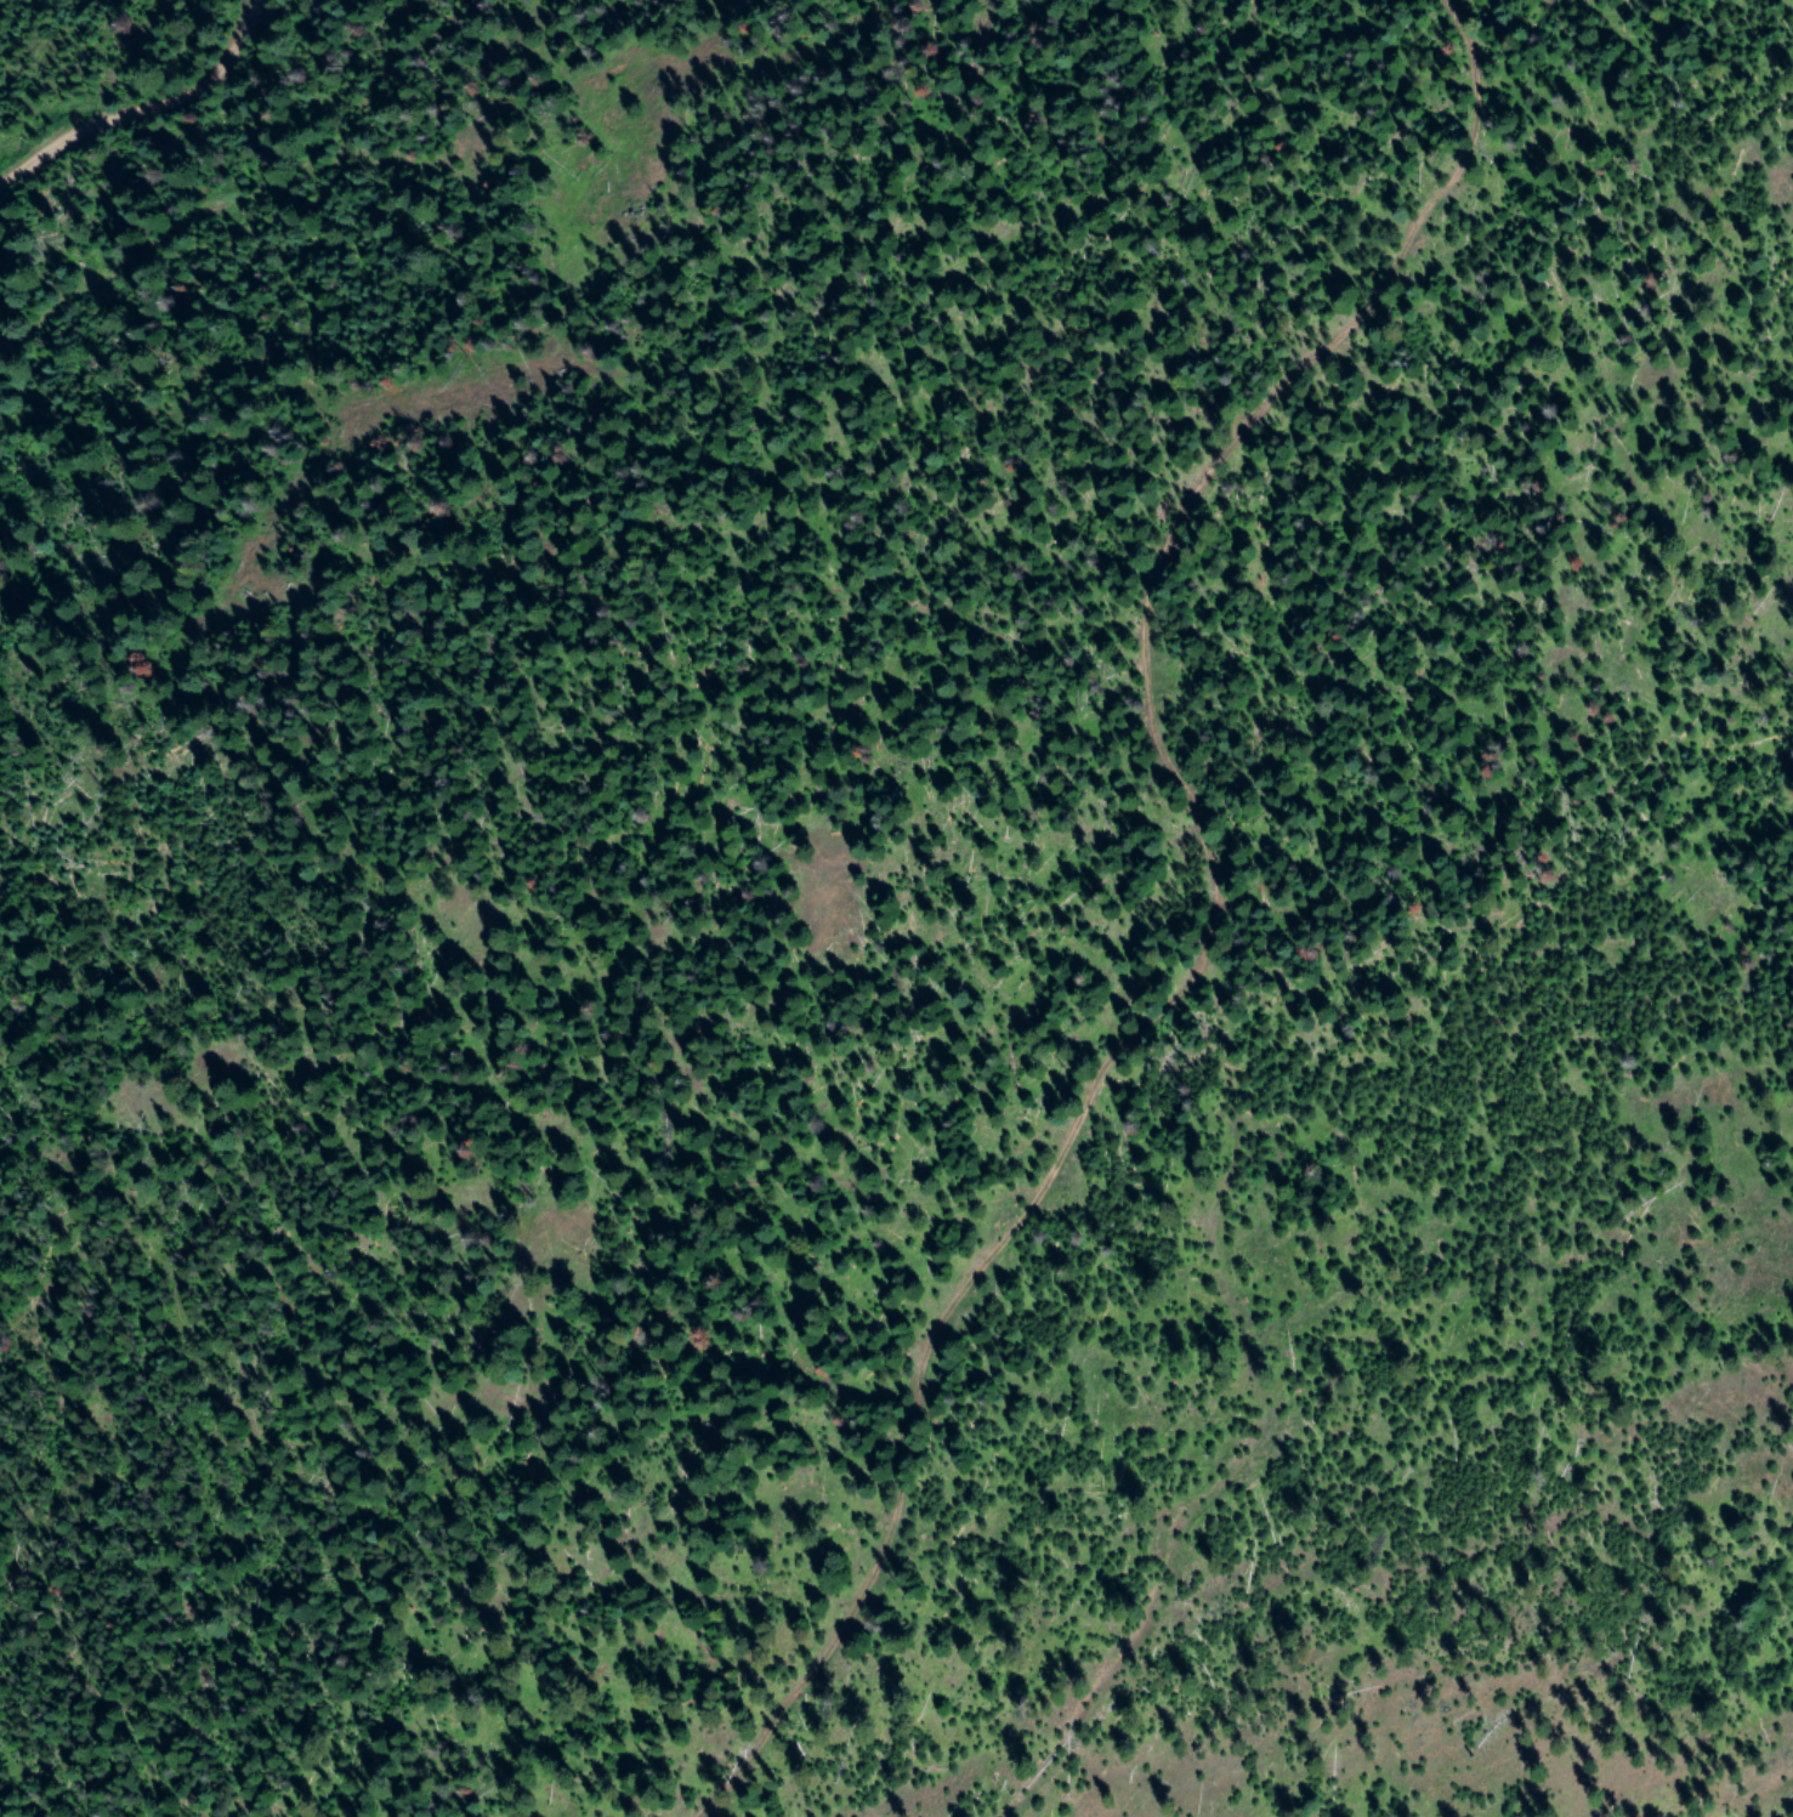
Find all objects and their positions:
road: (4, 2)
road: (154, 113)
road: (1191, 912)

